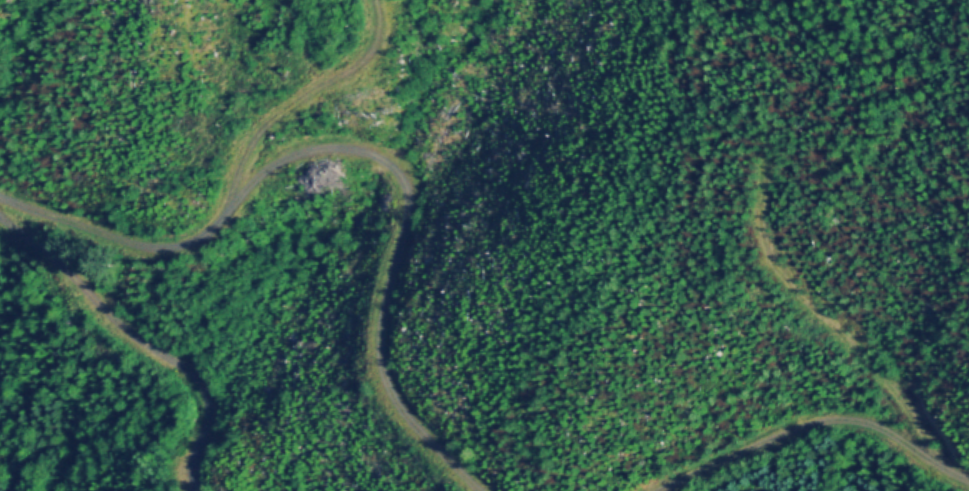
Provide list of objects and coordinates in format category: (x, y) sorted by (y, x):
road: (379, 159)
road: (136, 242)
road: (117, 346)
road: (835, 457)

